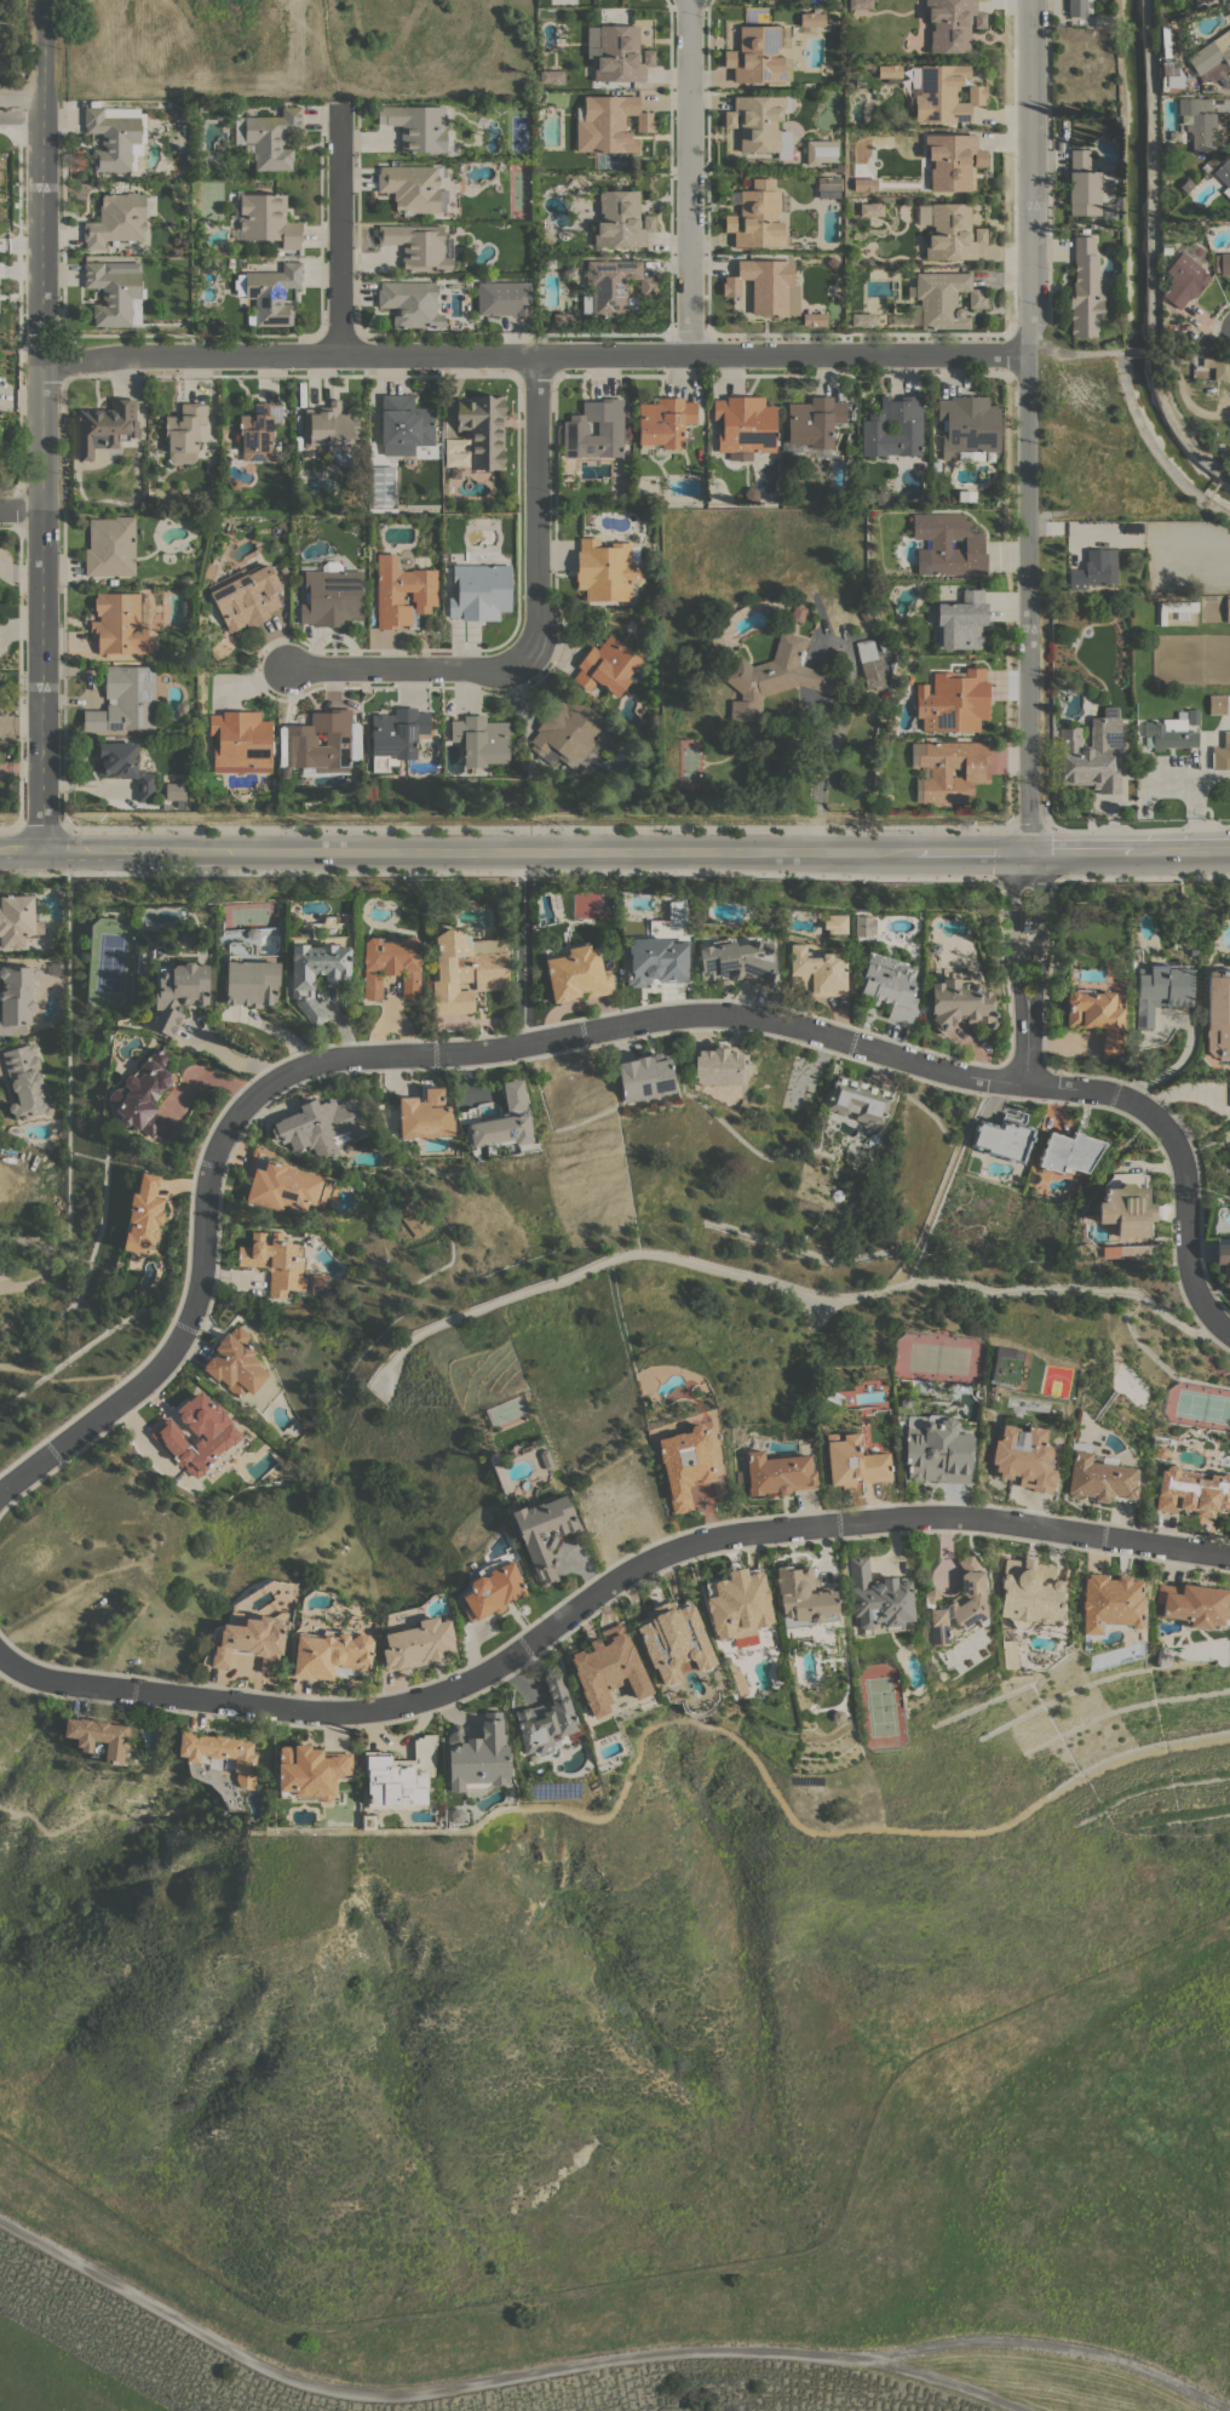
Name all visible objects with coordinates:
building: (860, 4)
building: (1076, 7)
building: (1228, 8)
building: (811, 18)
building: (1103, 21)
building: (952, 23)
building: (1097, 34)
building: (1167, 41)
building: (1211, 52)
building: (620, 53)
building: (757, 55)
road: (1119, 57)
building: (856, 65)
building: (889, 70)
building: (550, 75)
building: (944, 93)
road: (21, 115)
building: (760, 122)
building: (1199, 122)
building: (609, 124)
building: (419, 126)
building: (115, 136)
building: (268, 137)
building: (812, 151)
building: (952, 160)
building: (1209, 161)
road: (1149, 173)
building: (1224, 174)
road: (688, 177)
building: (828, 182)
building: (864, 184)
building: (1082, 184)
building: (413, 187)
building: (870, 208)
building: (1111, 212)
building: (119, 218)
building: (265, 218)
building: (621, 219)
building: (757, 219)
road: (338, 229)
building: (949, 230)
road: (1121, 233)
building: (177, 241)
building: (419, 245)
road: (21, 246)
building: (1222, 262)
building: (1183, 280)
building: (766, 285)
building: (614, 286)
building: (113, 290)
building: (1085, 290)
building: (269, 293)
building: (504, 298)
building: (944, 298)
building: (410, 303)
building: (565, 319)
building: (814, 319)
building: (863, 319)
road: (1136, 349)
road: (1163, 349)
road: (1073, 350)
road: (535, 355)
building: (1219, 366)
building: (665, 420)
building: (815, 422)
road: (42, 423)
road: (1174, 423)
building: (404, 424)
building: (105, 425)
building: (745, 425)
road: (1027, 425)
building: (331, 428)
building: (874, 428)
building: (969, 428)
building: (483, 429)
building: (597, 429)
building: (258, 430)
building: (184, 431)
building: (847, 447)
road: (1153, 448)
building: (626, 464)
building: (454, 473)
building: (234, 482)
building: (751, 492)
building: (881, 497)
road: (536, 498)
road: (21, 509)
building: (276, 529)
building: (947, 544)
building: (110, 546)
building: (1096, 568)
building: (284, 569)
building: (607, 569)
building: (402, 591)
building: (479, 591)
building: (246, 595)
building: (332, 595)
building: (186, 607)
building: (1174, 608)
building: (1228, 609)
building: (797, 613)
building: (961, 620)
building: (121, 622)
building: (630, 625)
building: (869, 664)
building: (608, 665)
road: (415, 668)
building: (771, 676)
building: (909, 678)
building: (126, 699)
building: (953, 700)
building: (1217, 704)
building: (182, 706)
building: (1192, 716)
building: (655, 721)
building: (568, 731)
building: (1171, 732)
building: (396, 734)
building: (482, 739)
building: (240, 741)
building: (326, 743)
building: (611, 744)
building: (1222, 752)
building: (1091, 755)
building: (126, 767)
building: (936, 771)
road: (820, 778)
building: (174, 791)
road: (1028, 826)
road: (8, 827)
road: (40, 827)
road: (536, 827)
road: (1137, 829)
road: (615, 849)
road: (1027, 859)
road: (498, 872)
road: (1142, 877)
road: (1024, 878)
road: (1012, 910)
road: (1039, 911)
building: (17, 920)
building: (1028, 922)
building: (835, 923)
building: (863, 926)
building: (251, 932)
building: (935, 945)
building: (659, 952)
building: (735, 961)
building: (391, 964)
building: (466, 969)
building: (816, 972)
building: (576, 973)
building: (251, 981)
building: (301, 985)
building: (890, 989)
building: (1160, 990)
building: (177, 993)
building: (16, 997)
building: (959, 1003)
building: (1218, 1013)
building: (1097, 1014)
road: (1016, 1020)
road: (1034, 1021)
road: (575, 1032)
building: (718, 1066)
building: (645, 1076)
building: (25, 1081)
building: (144, 1095)
building: (857, 1099)
building: (425, 1115)
building: (504, 1123)
building: (320, 1126)
building: (1002, 1139)
building: (1069, 1151)
building: (280, 1184)
building: (837, 1193)
building: (1126, 1203)
building: (143, 1214)
building: (413, 1218)
building: (1123, 1250)
building: (1224, 1259)
road: (47, 1260)
building: (275, 1260)
building: (318, 1283)
building: (236, 1362)
building: (1007, 1369)
road: (24, 1370)
road: (94, 1376)
building: (834, 1397)
building: (903, 1402)
building: (200, 1436)
building: (937, 1448)
building: (1161, 1451)
building: (546, 1458)
building: (1024, 1458)
building: (853, 1461)
building: (685, 1462)
building: (776, 1473)
building: (1099, 1476)
building: (1192, 1490)
building: (544, 1533)
road: (602, 1588)
building: (492, 1590)
building: (955, 1592)
building: (1030, 1592)
building: (804, 1596)
building: (878, 1597)
building: (738, 1603)
building: (1111, 1604)
building: (1196, 1605)
building: (959, 1607)
building: (673, 1639)
building: (252, 1642)
building: (418, 1643)
building: (791, 1653)
building: (1008, 1653)
building: (333, 1654)
building: (608, 1668)
building: (737, 1679)
building: (837, 1716)
building: (547, 1719)
building: (98, 1737)
building: (220, 1753)
building: (477, 1756)
building: (310, 1771)
building: (400, 1775)
building: (455, 1816)
building: (367, 1823)
road: (45, 1825)
road: (1052, 2344)
road: (495, 2379)

